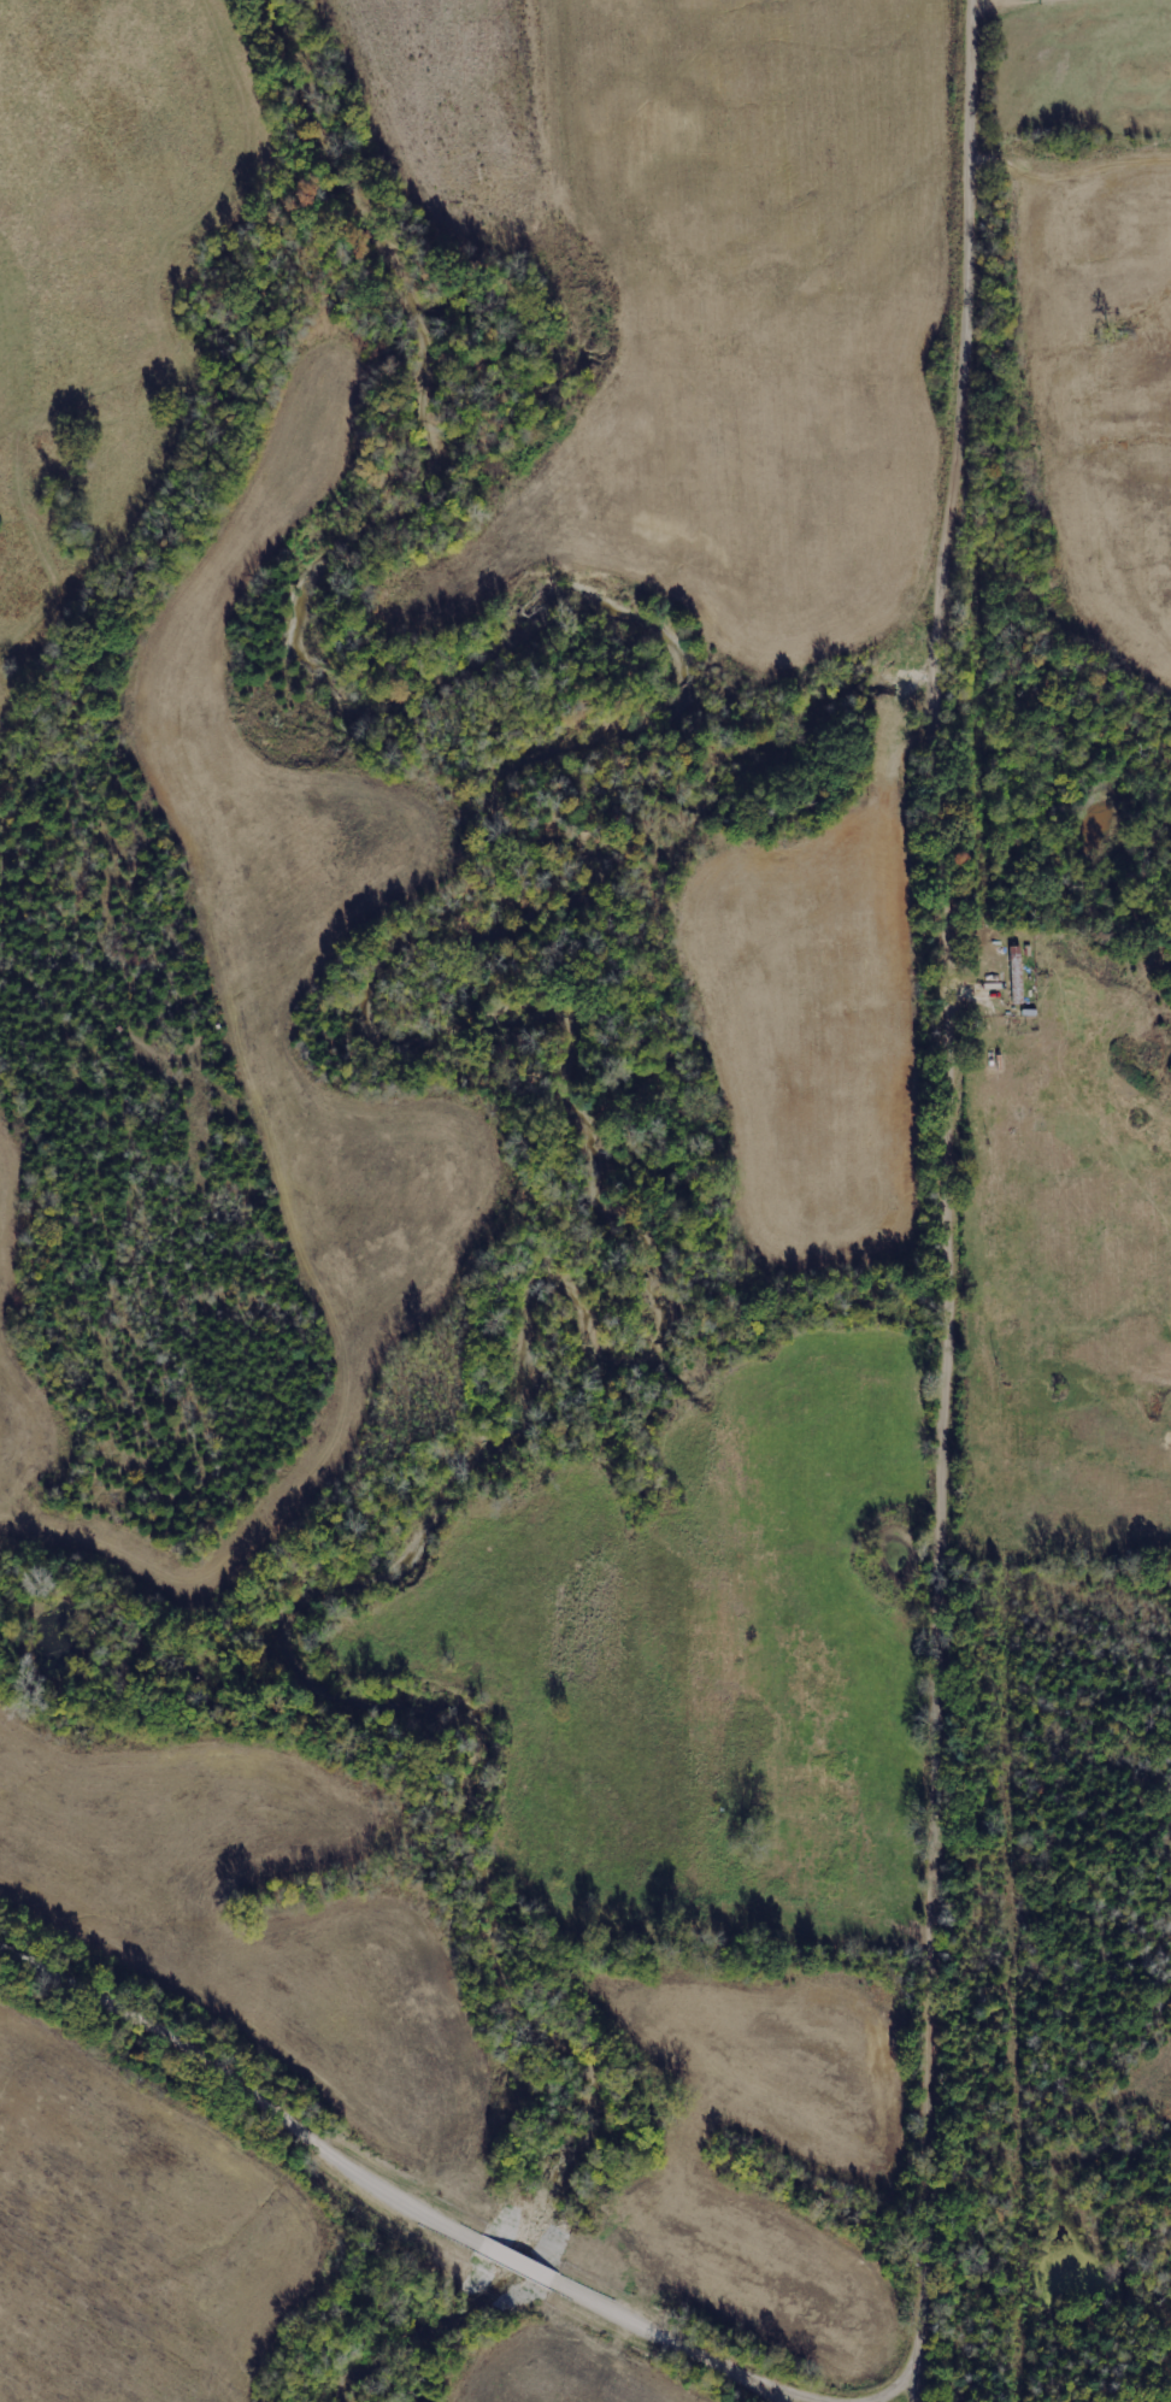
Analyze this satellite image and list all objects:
road: (979, 1200)
road: (416, 2166)

